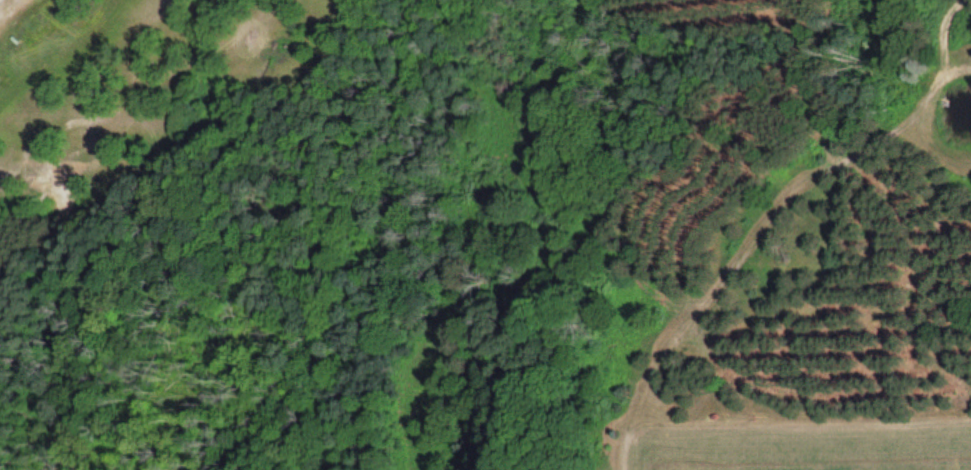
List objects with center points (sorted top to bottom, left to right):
park: (307, 92)

